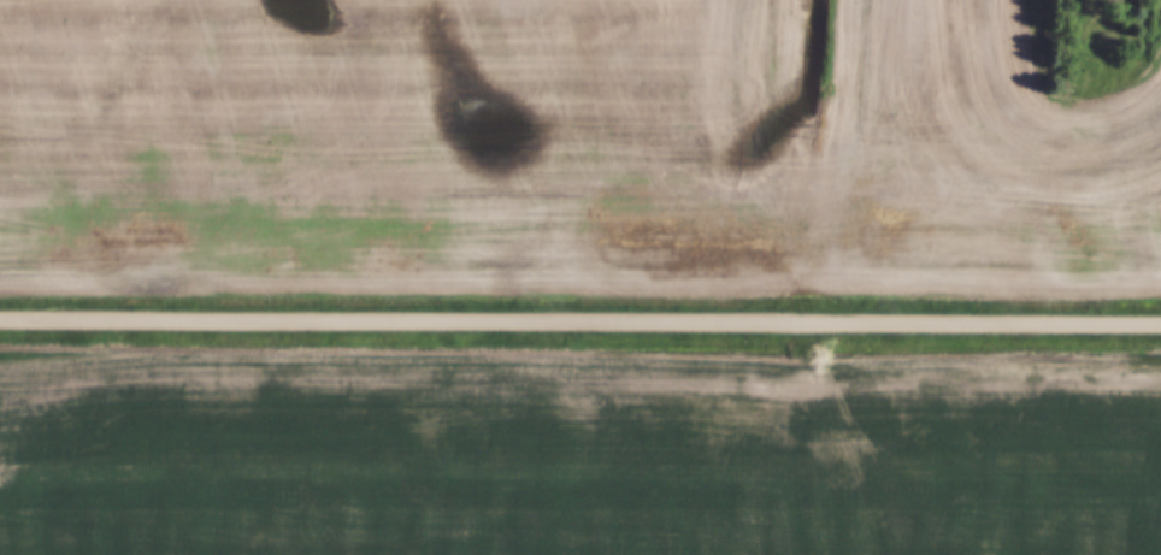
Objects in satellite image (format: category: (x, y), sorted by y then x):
road: (579, 324)

